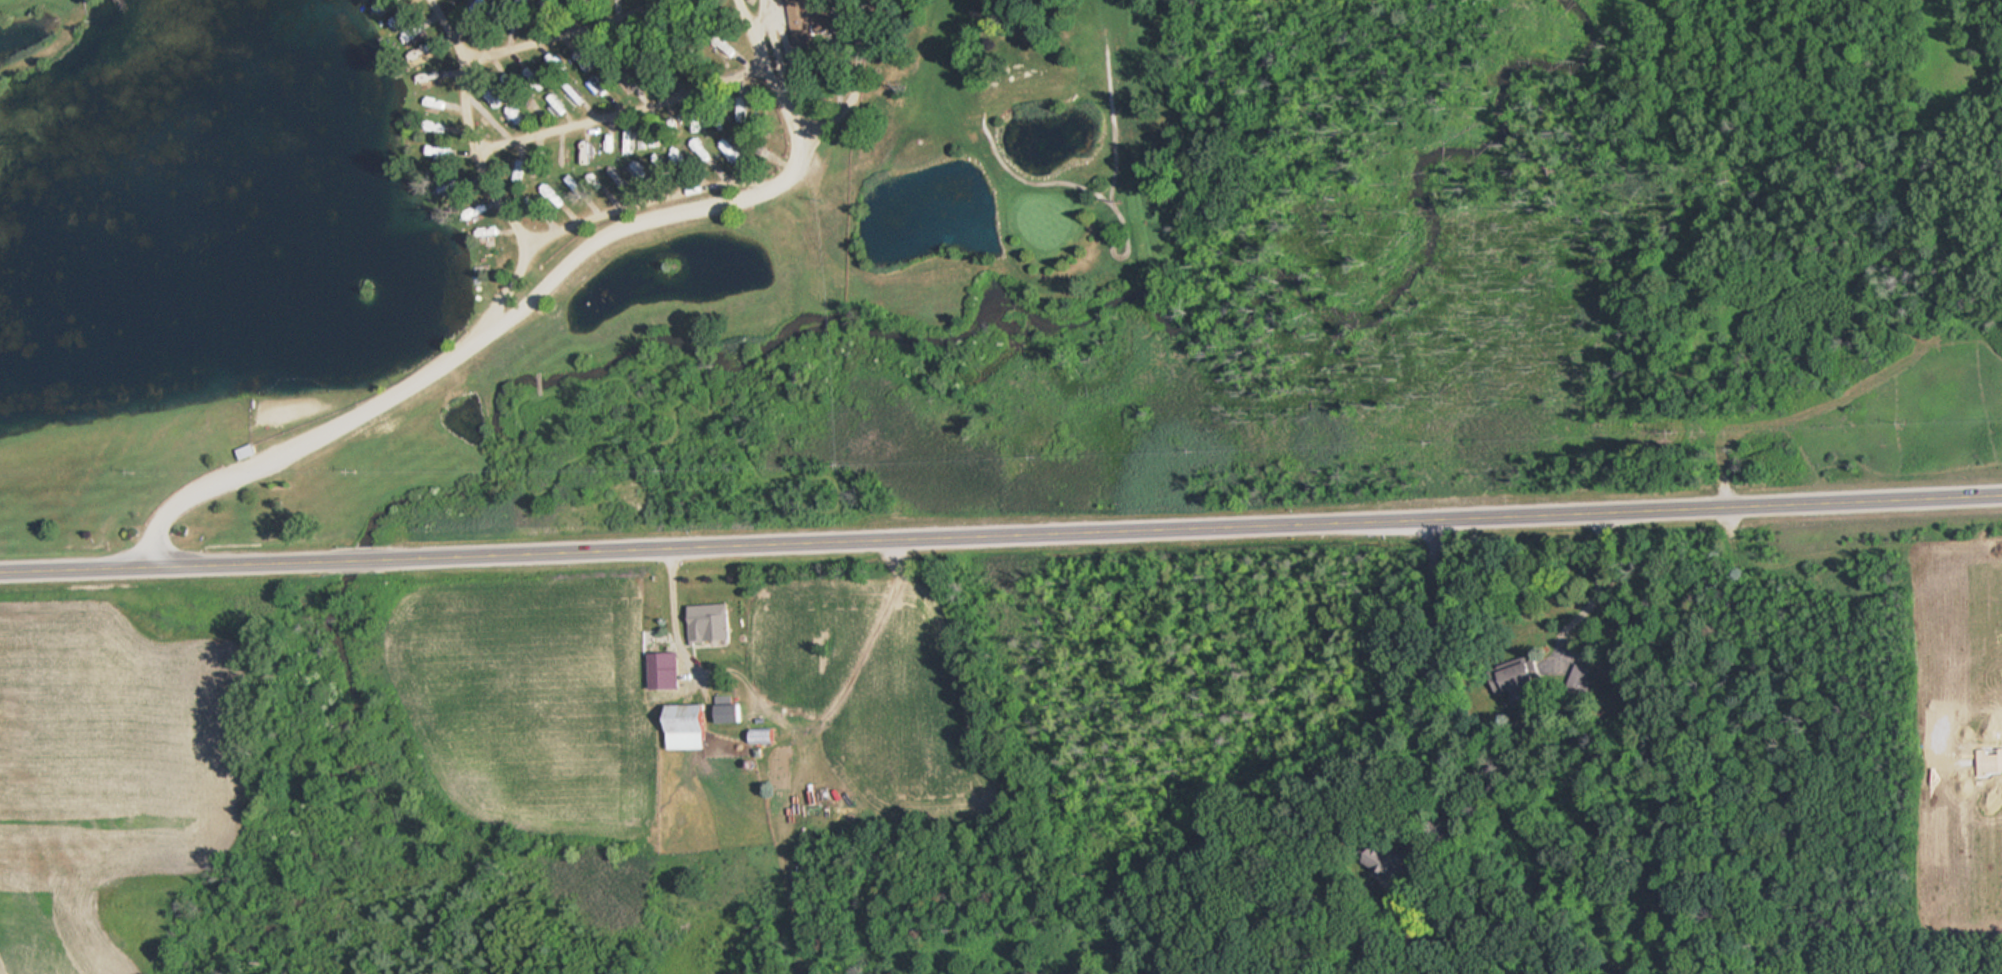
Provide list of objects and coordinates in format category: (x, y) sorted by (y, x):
building: (803, 23)
park: (586, 259)
road: (529, 301)
building: (249, 450)
road: (1001, 529)
building: (712, 621)
building: (666, 670)
building: (733, 713)
building: (692, 726)
building: (766, 736)
building: (1369, 869)

